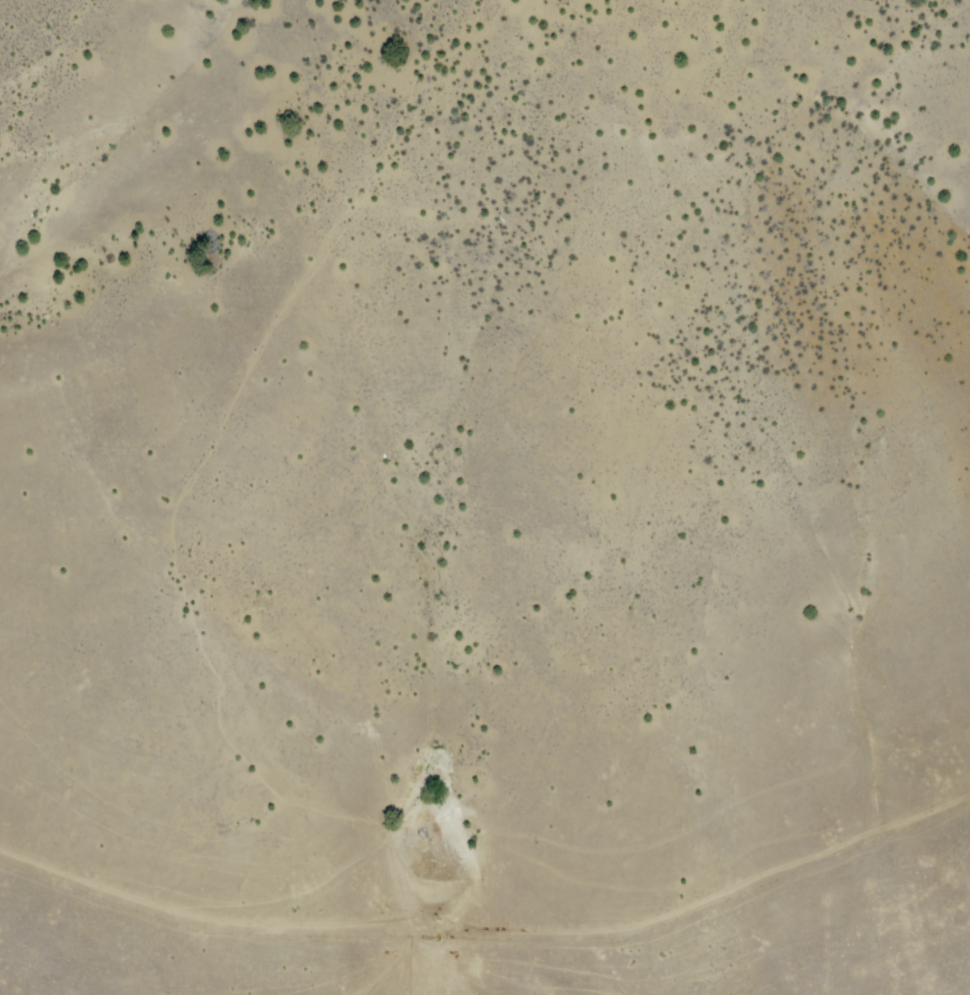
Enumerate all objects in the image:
road: (491, 931)

